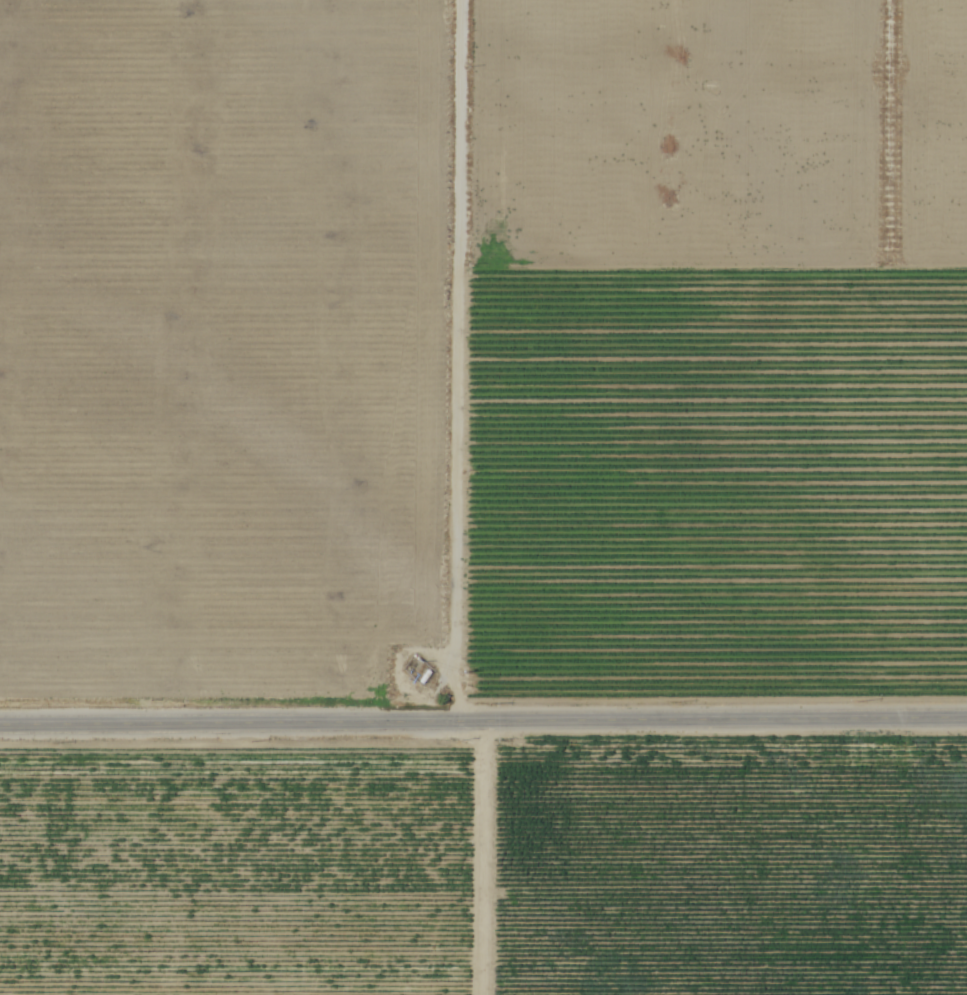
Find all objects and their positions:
road: (453, 361)
road: (483, 722)
road: (477, 859)

